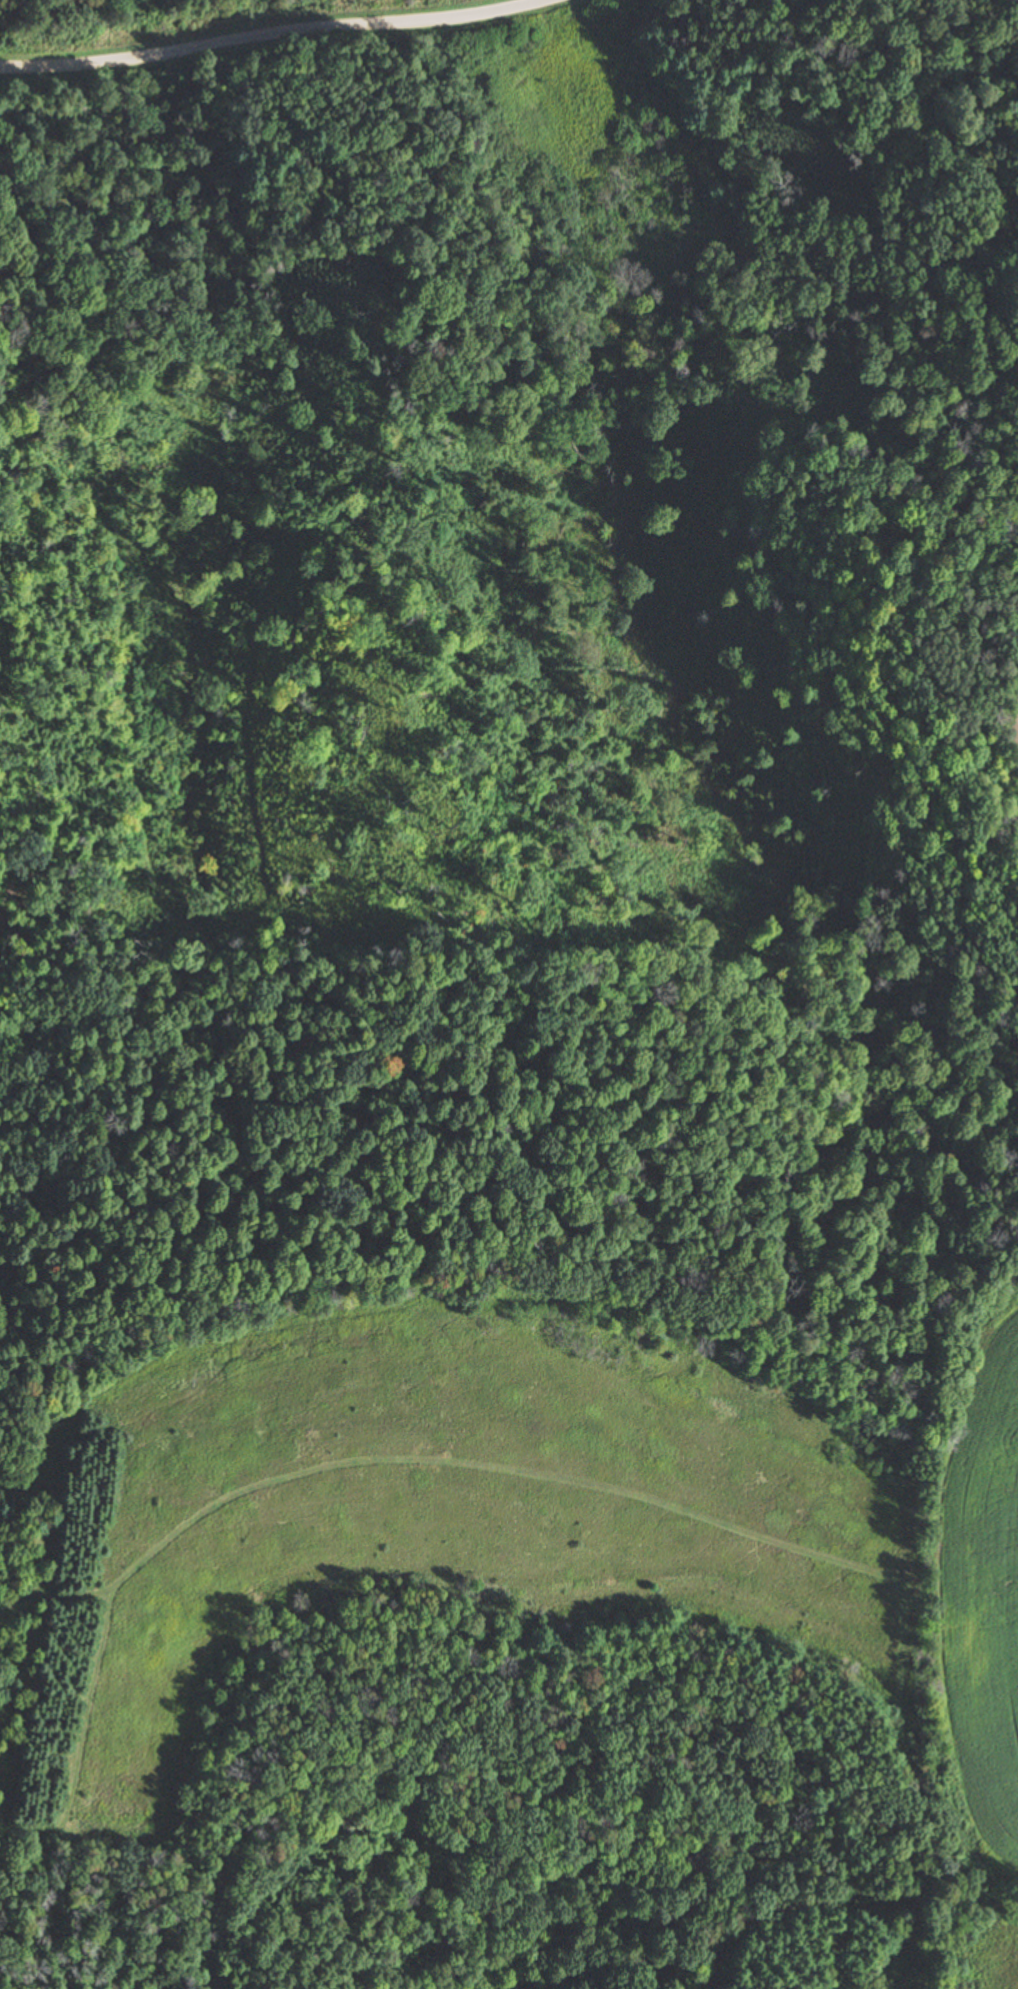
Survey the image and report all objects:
road: (270, 35)

